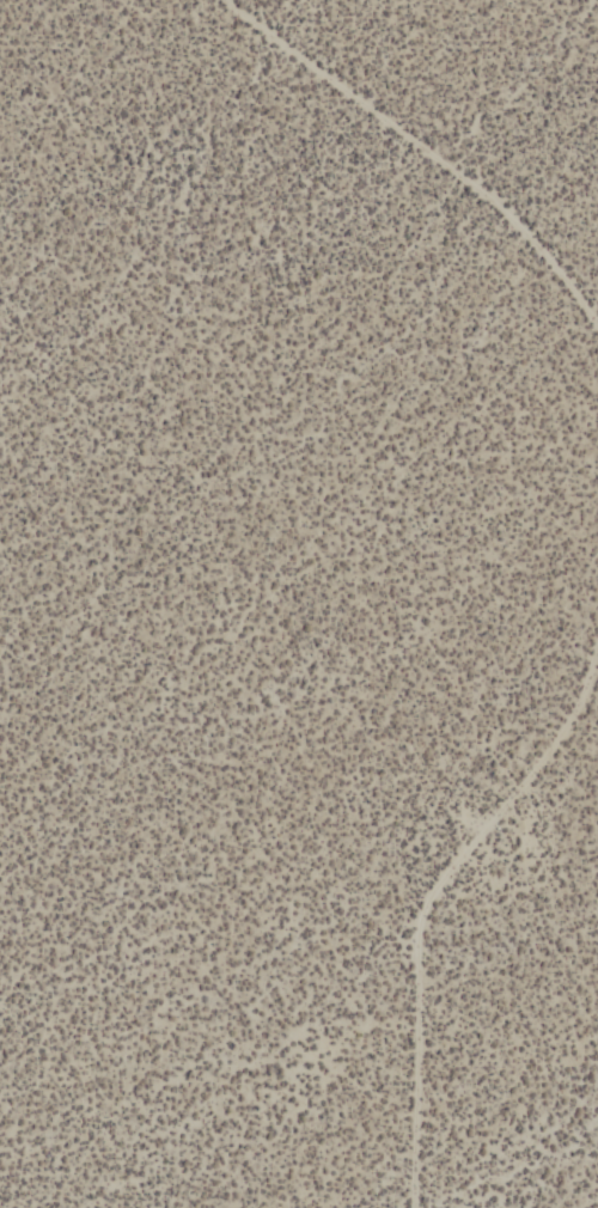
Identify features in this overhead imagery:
road: (432, 145)
road: (431, 911)
road: (422, 1207)

